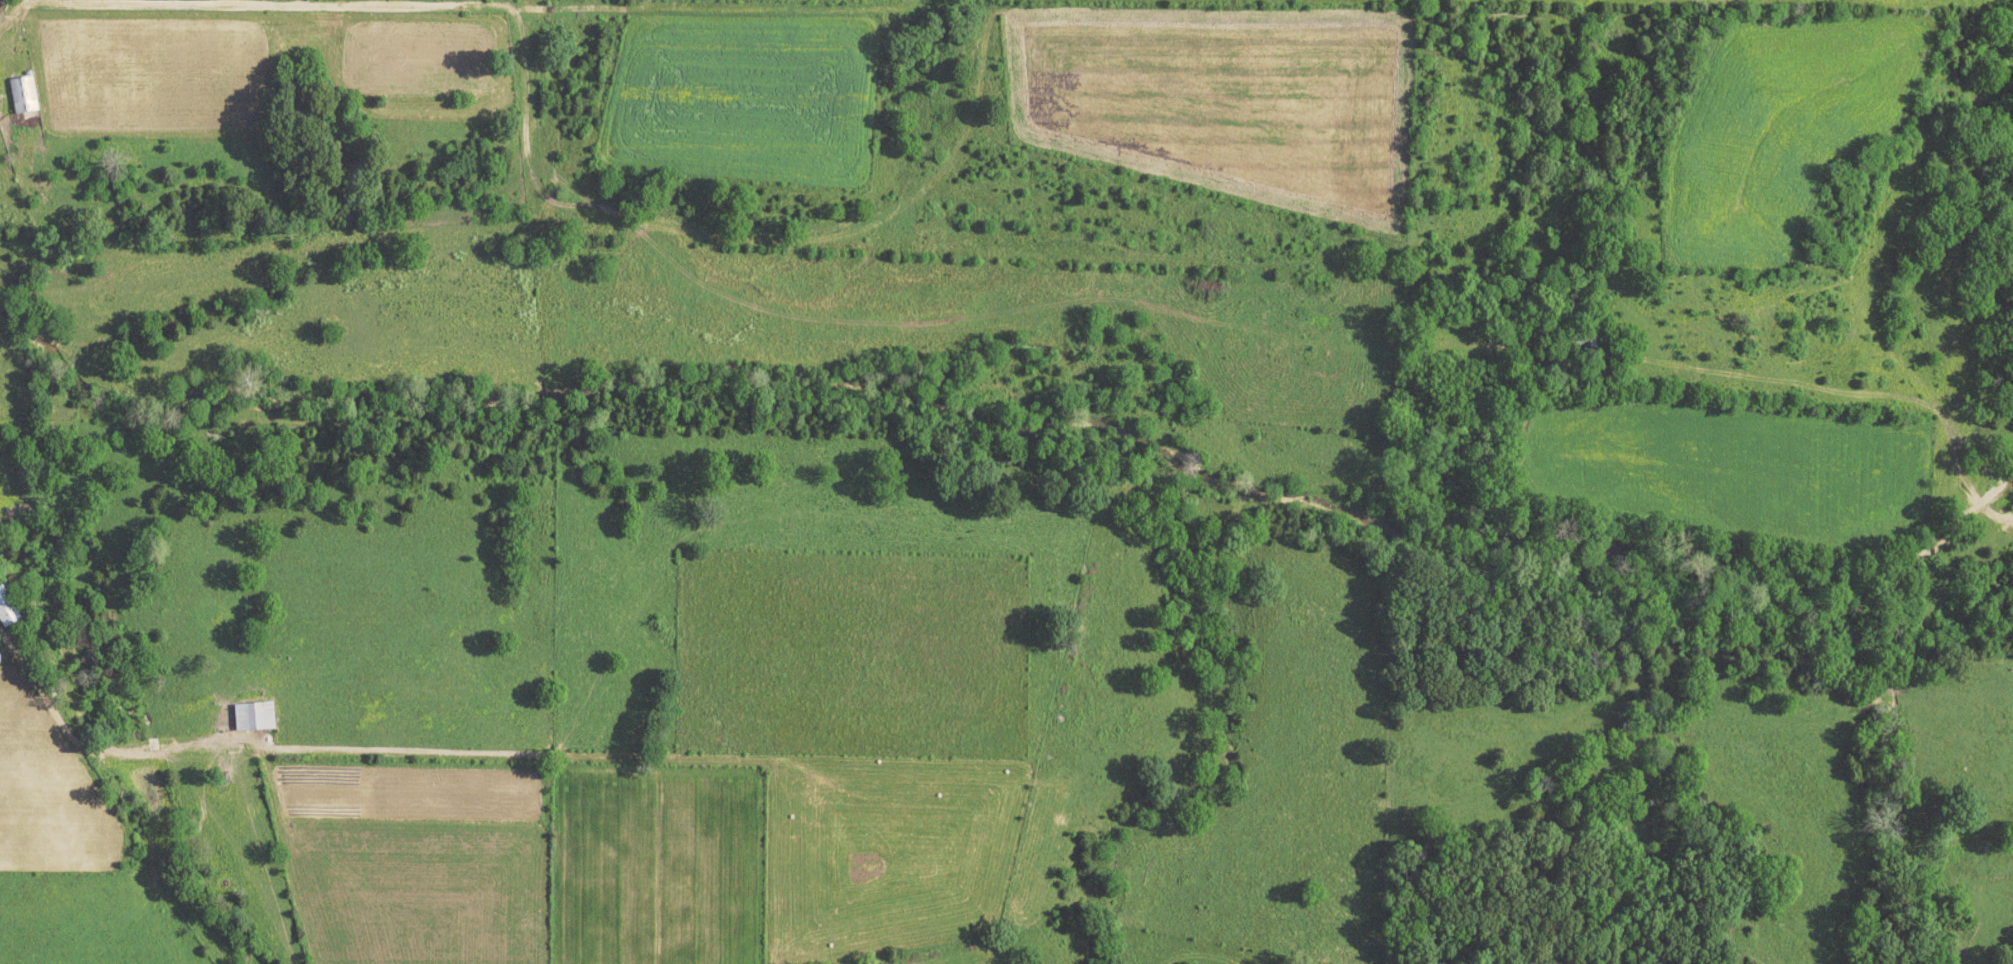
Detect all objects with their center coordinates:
building: (23, 94)
building: (6, 610)
building: (253, 716)
road: (85, 742)

